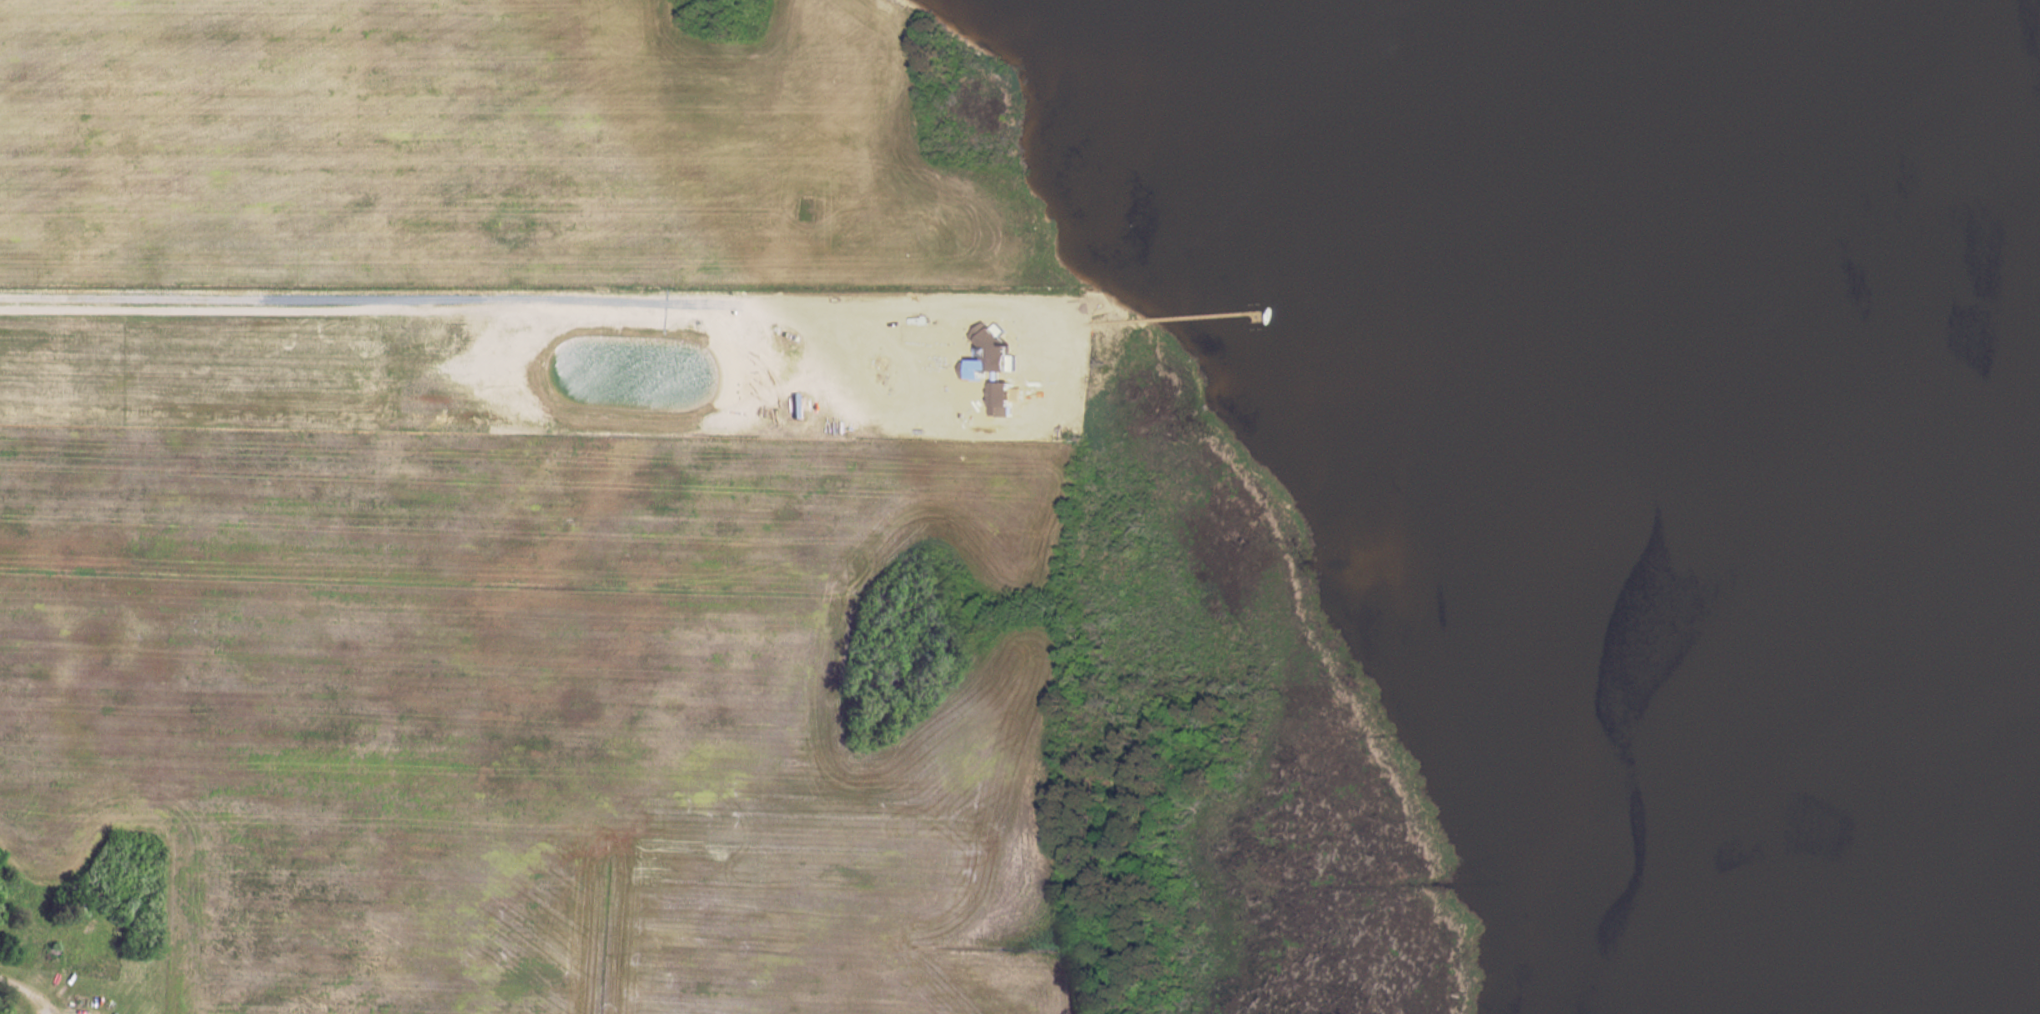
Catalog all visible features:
crop: (473, 146)
road: (503, 302)
building: (1004, 366)
crop: (531, 720)
road: (24, 991)
road: (49, 1010)
park: (264, 1013)

